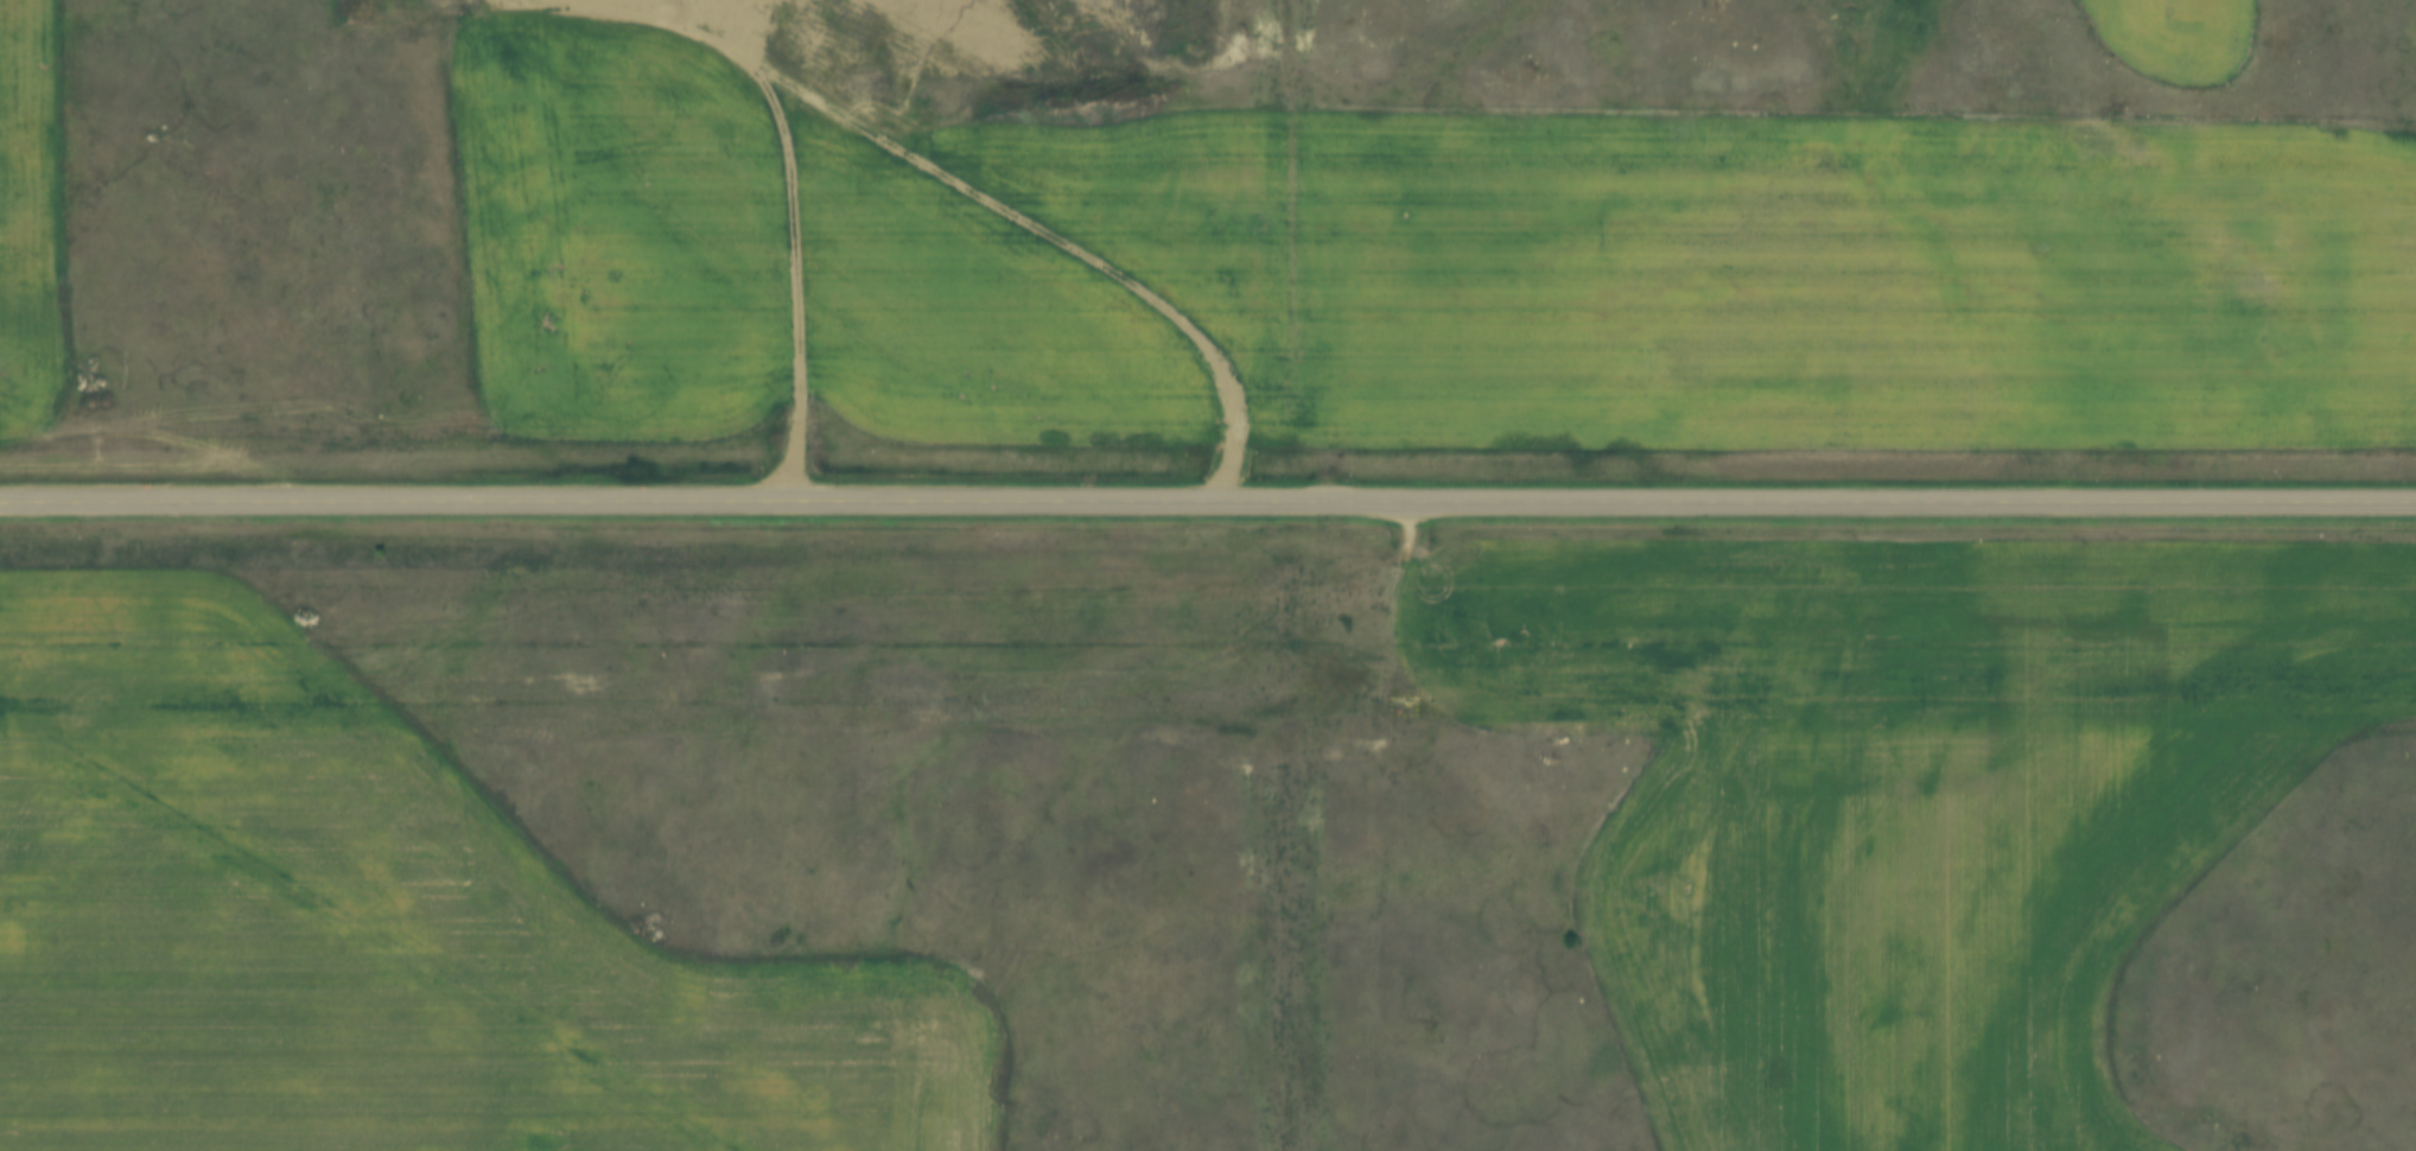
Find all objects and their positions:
road: (1207, 501)

